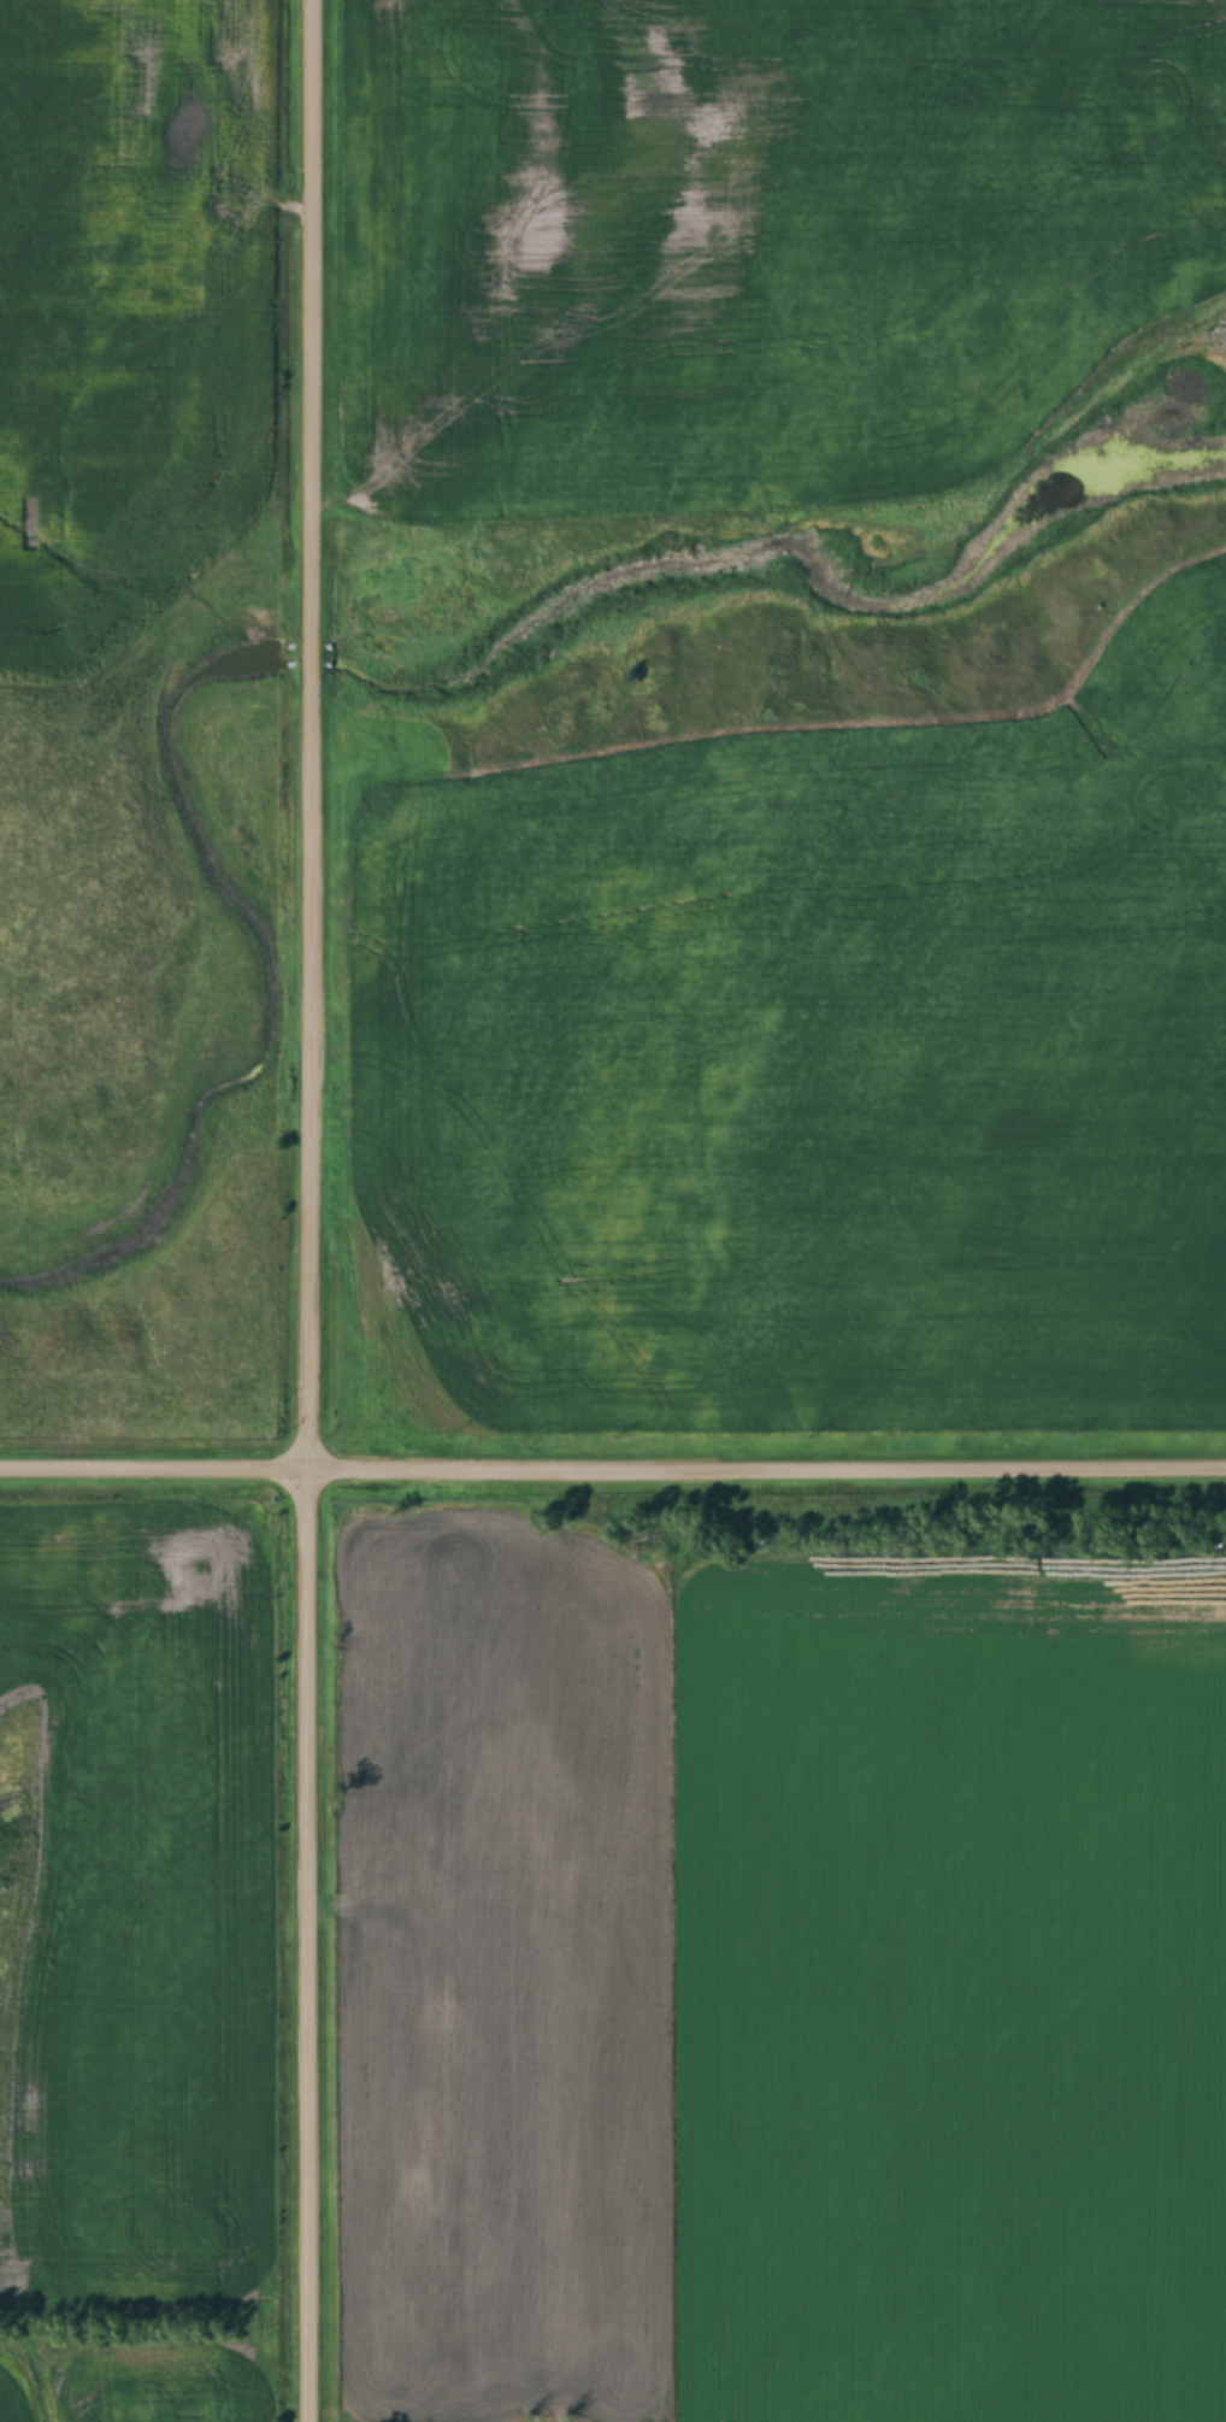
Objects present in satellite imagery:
road: (316, 1211)
road: (613, 1469)

